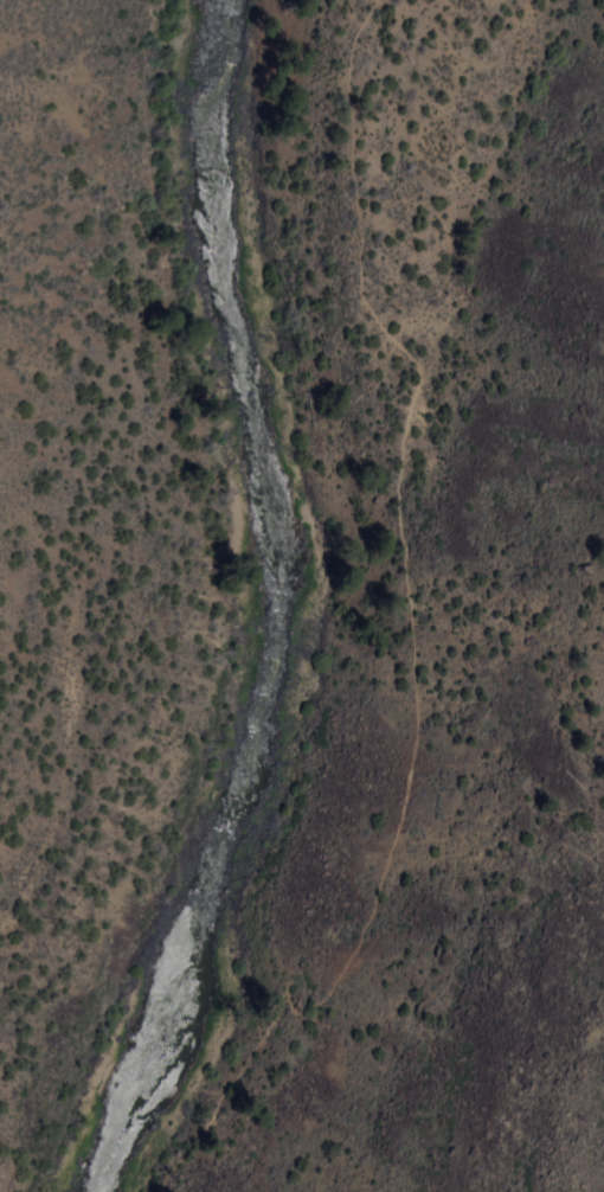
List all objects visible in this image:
road: (266, 55)
river: (266, 609)
road: (415, 640)

